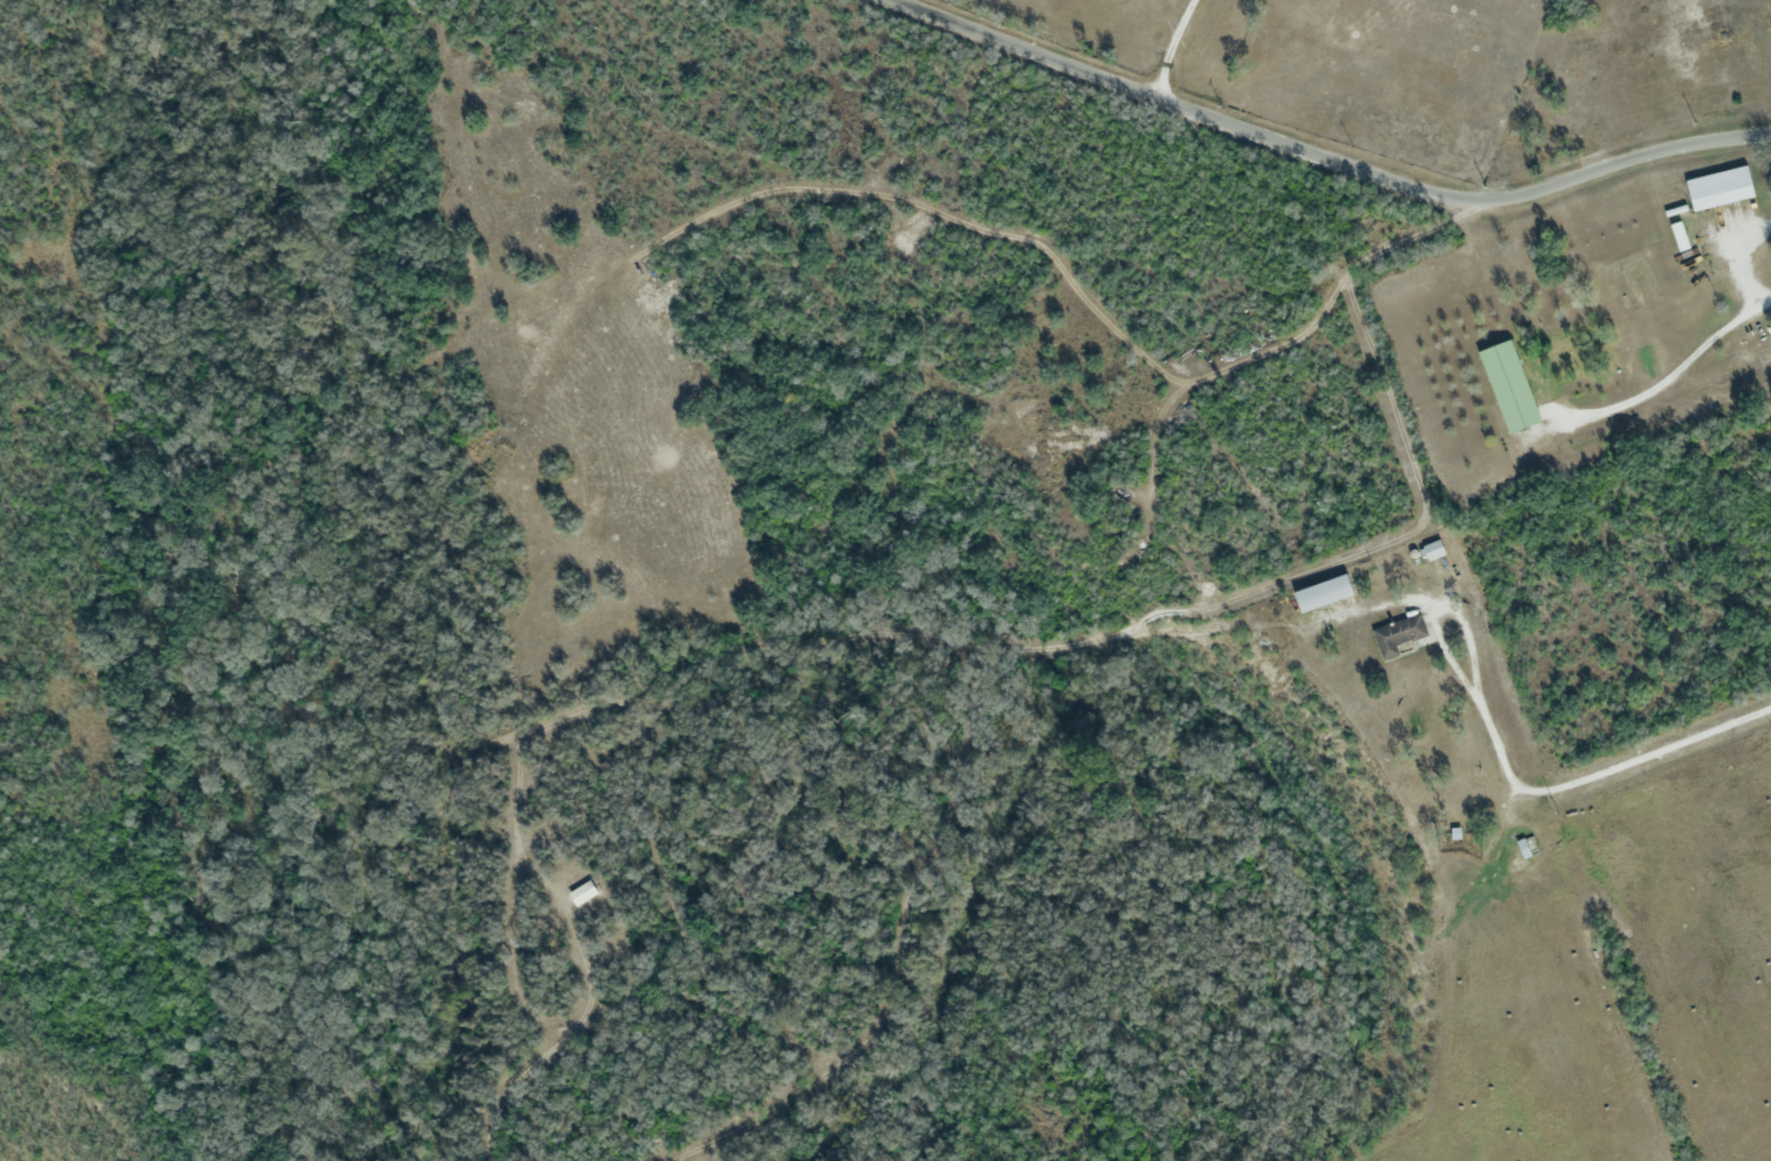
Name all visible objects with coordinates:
road: (1170, 46)
road: (1325, 153)
building: (1719, 188)
building: (1510, 385)
building: (1432, 550)
building: (1324, 593)
building: (1398, 635)
road: (1468, 637)
road: (1640, 751)
road: (1505, 805)
building: (1527, 846)

